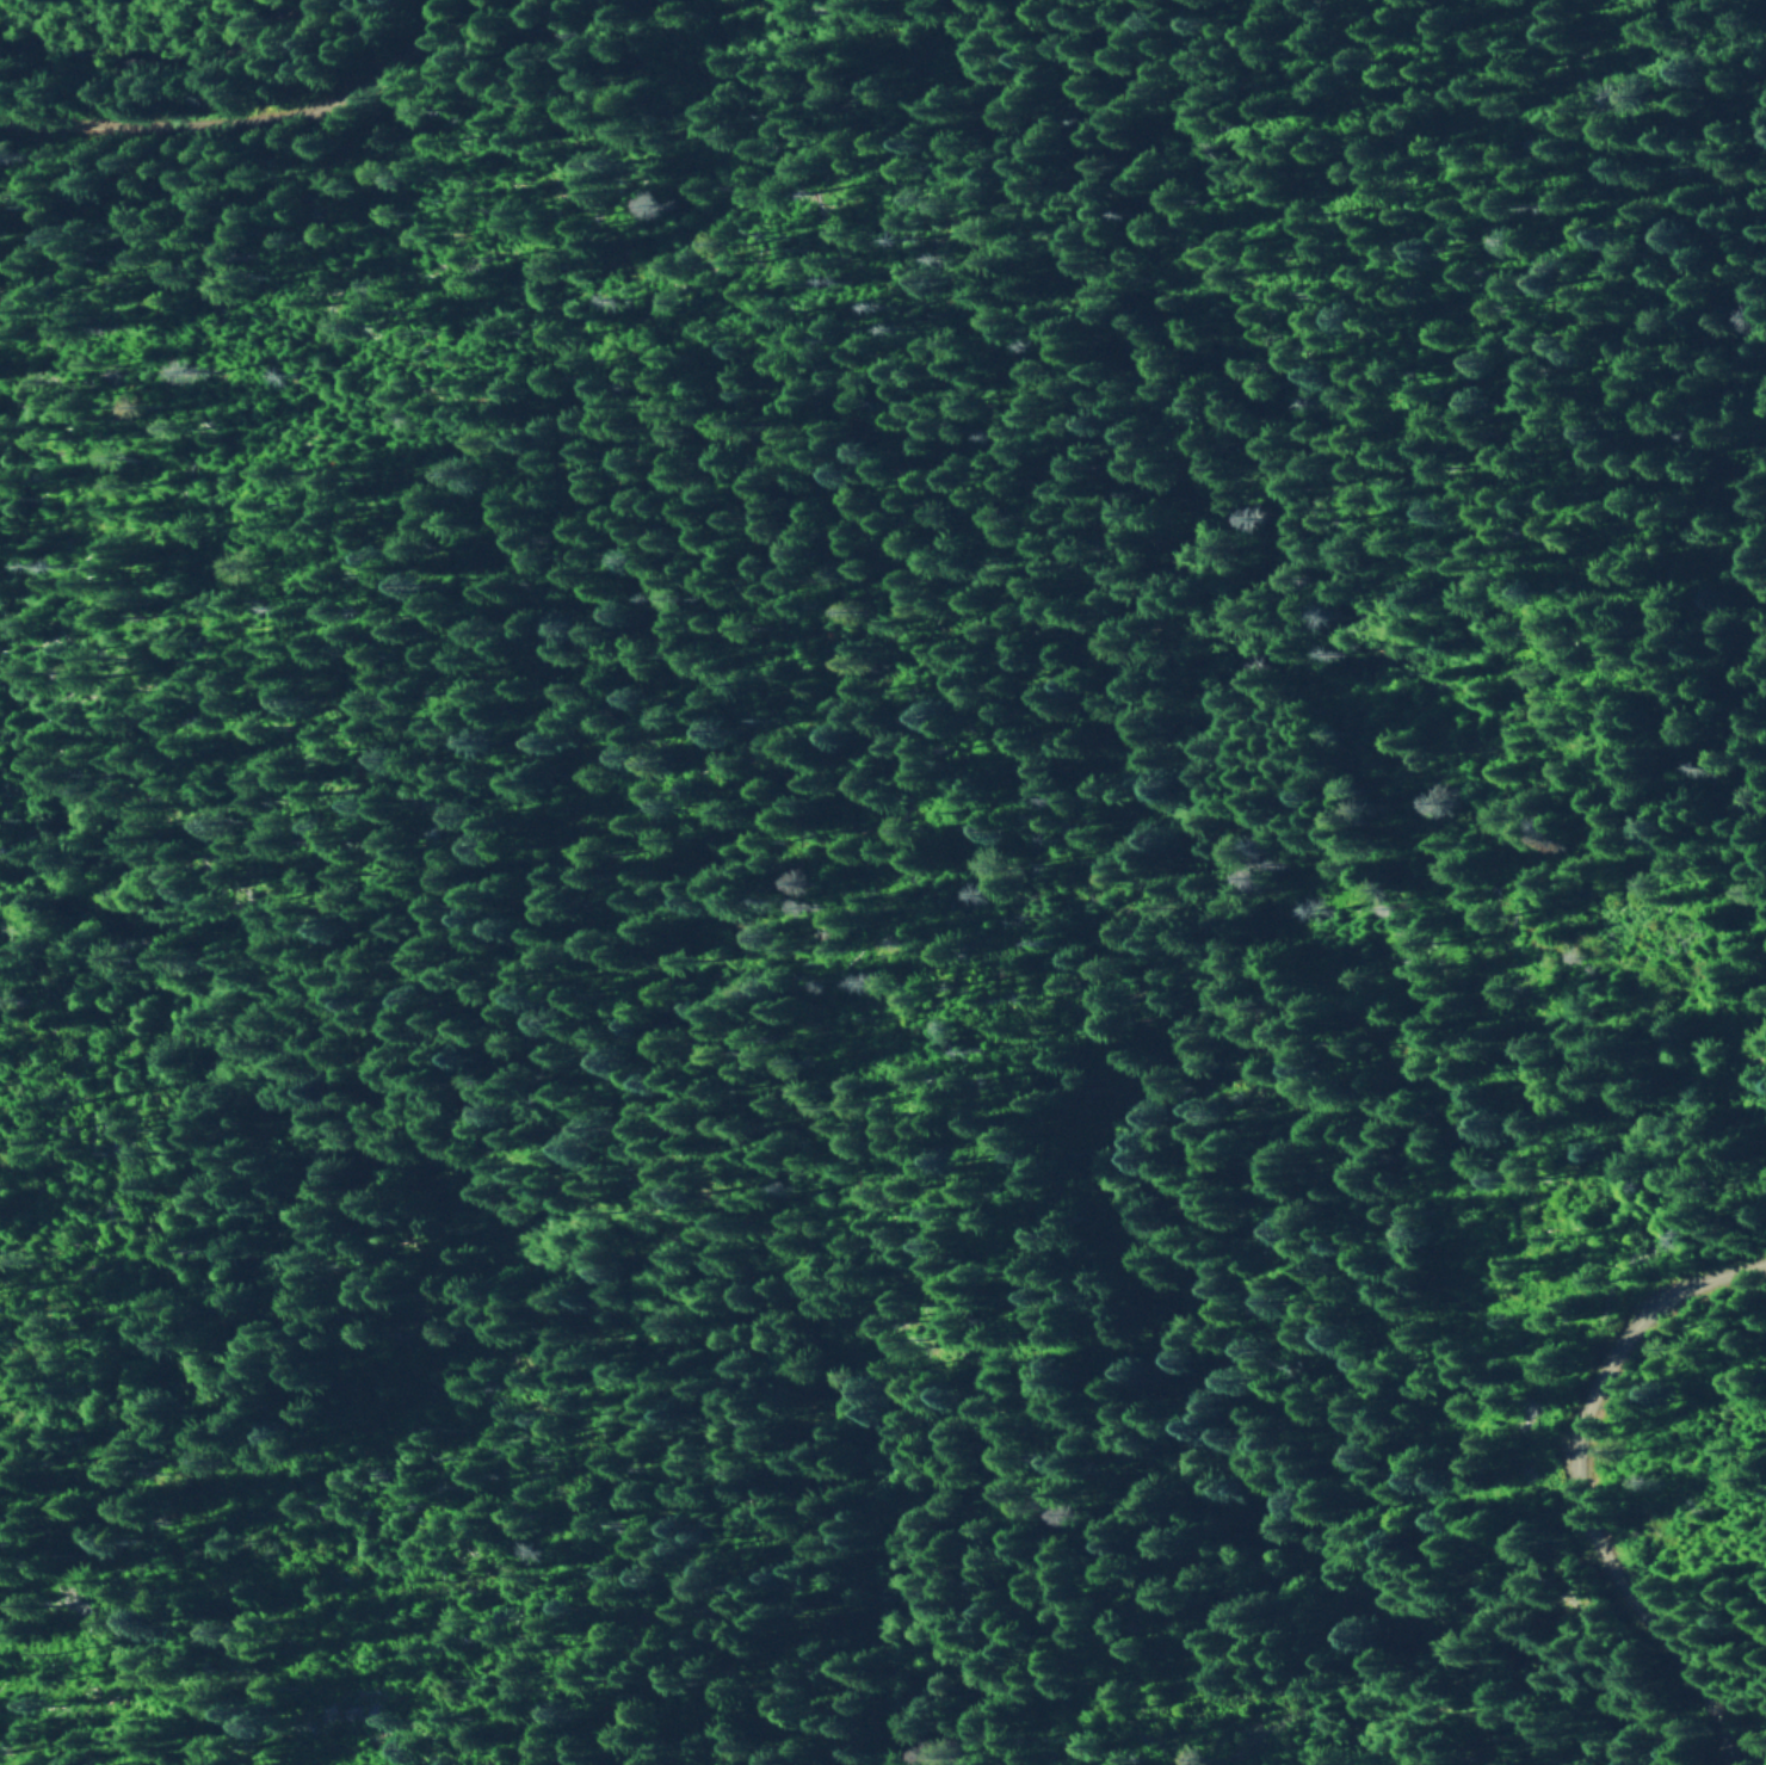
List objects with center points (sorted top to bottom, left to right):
road: (1754, 8)
river: (111, 49)
road: (241, 124)

